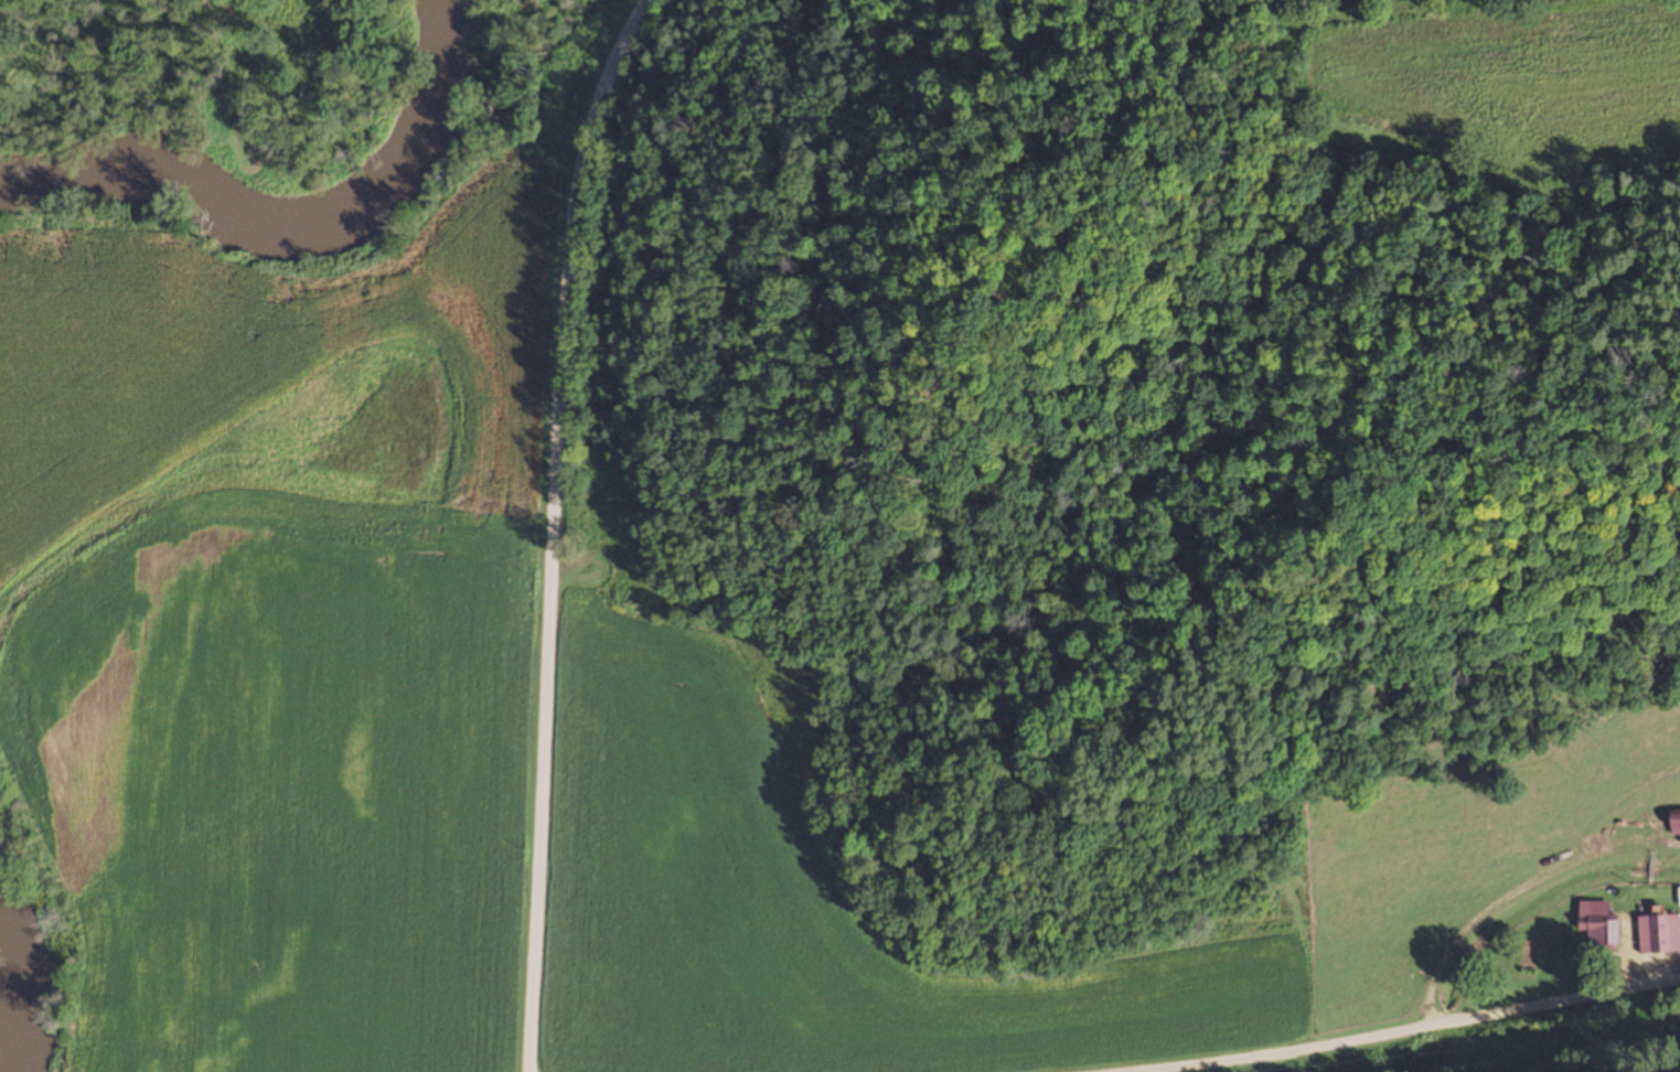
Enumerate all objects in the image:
road: (586, 133)
river: (289, 214)
road: (604, 275)
building: (589, 494)
building: (592, 583)
road: (542, 673)
building: (1674, 816)
building: (1598, 929)
building: (1659, 933)
river: (14, 994)
road: (1397, 1031)

